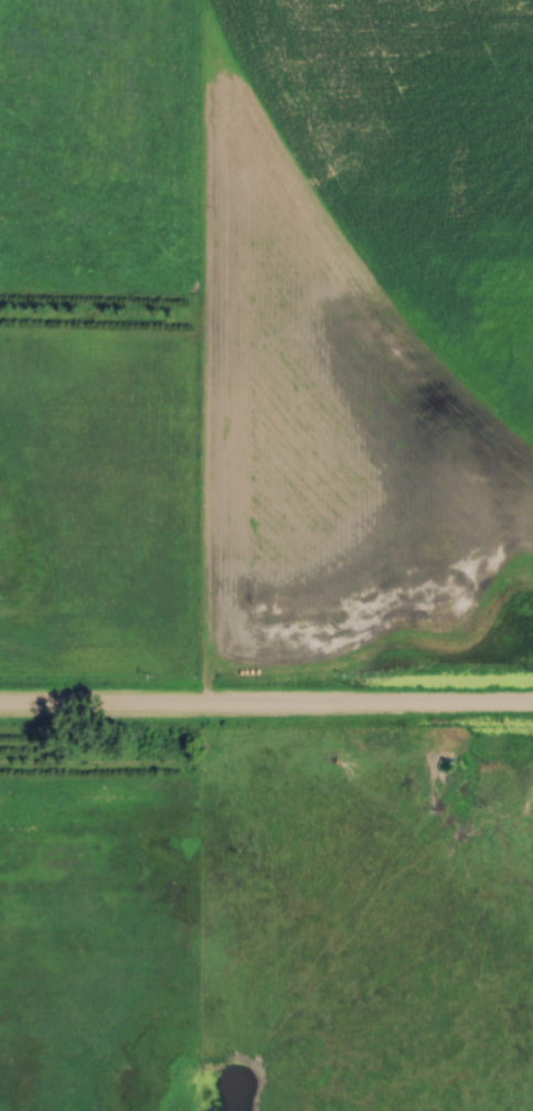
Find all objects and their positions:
road: (266, 706)

